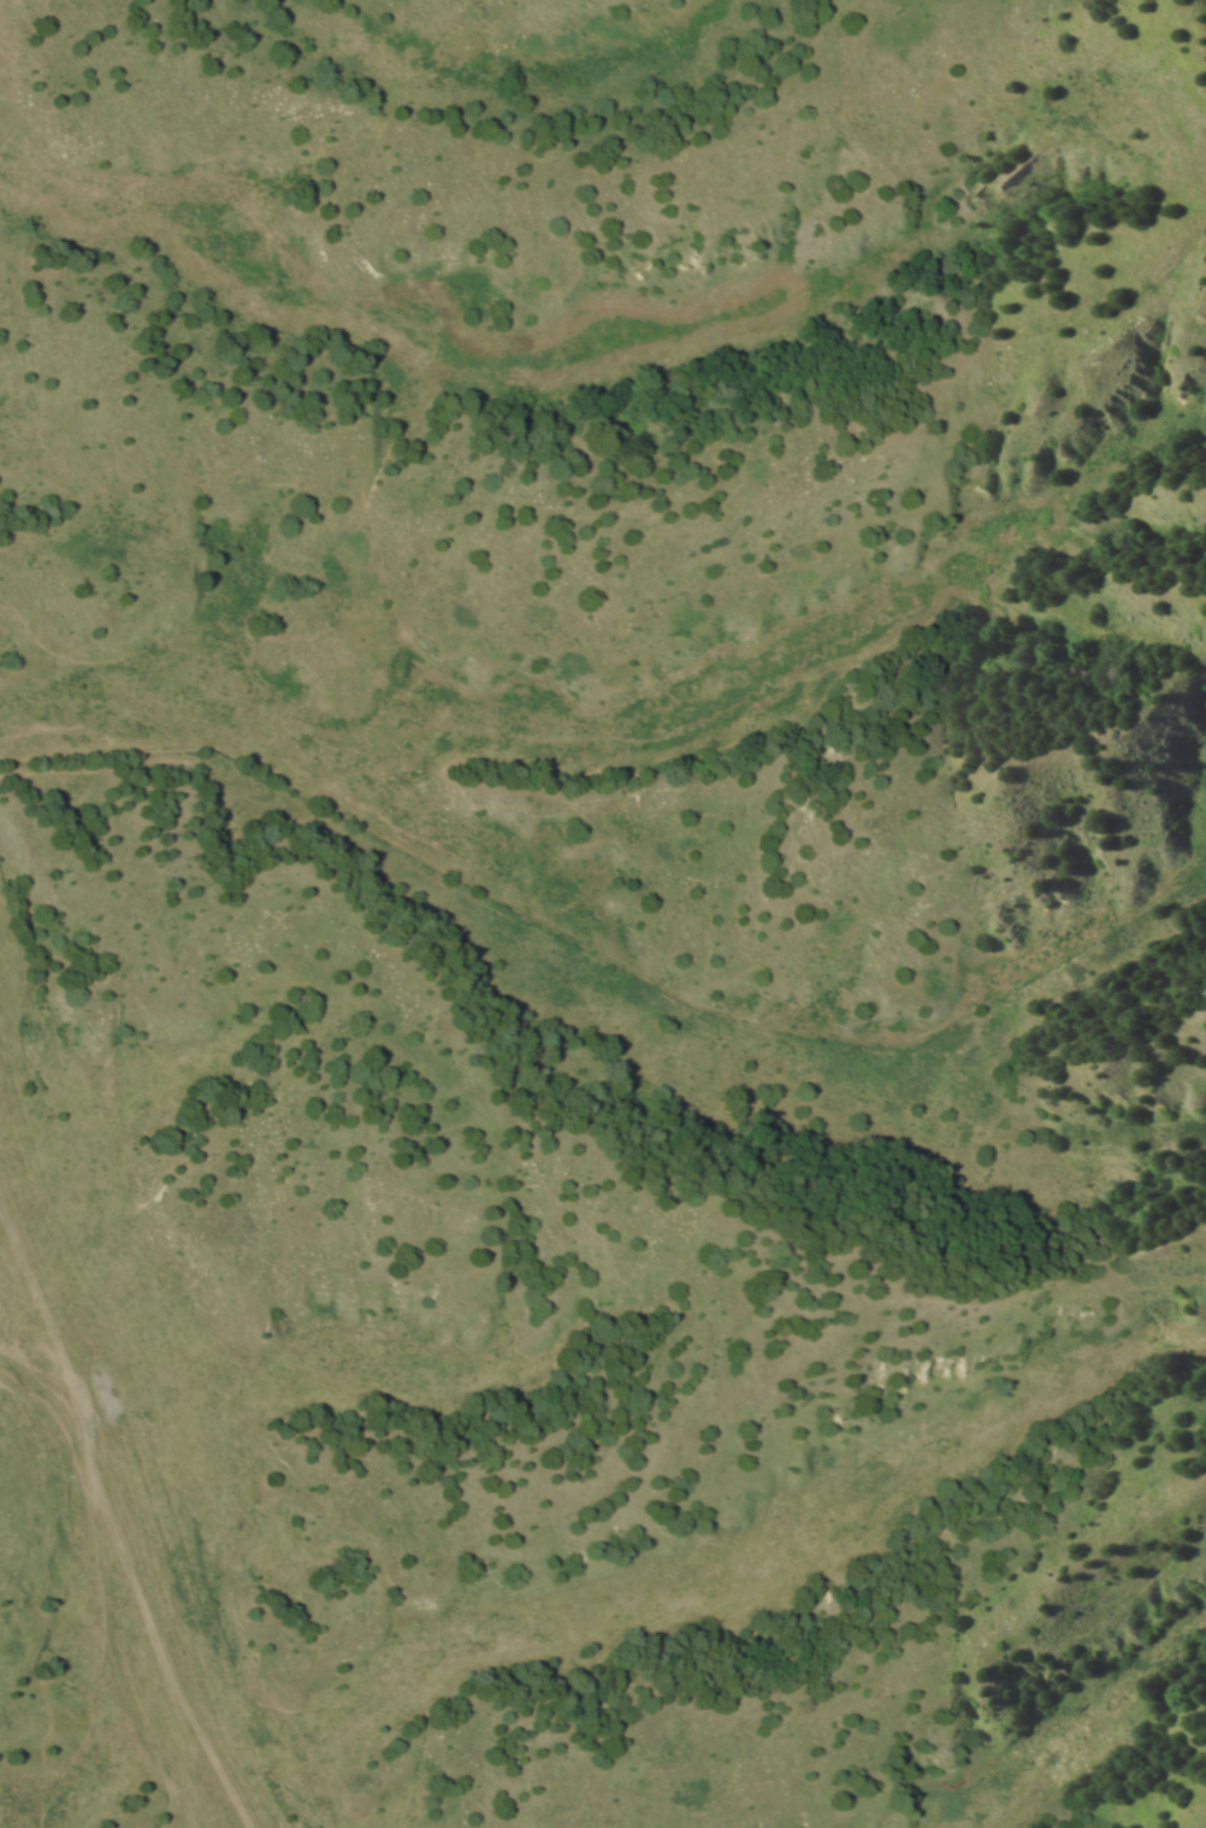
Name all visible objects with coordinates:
road: (123, 1526)
road: (188, 1775)

